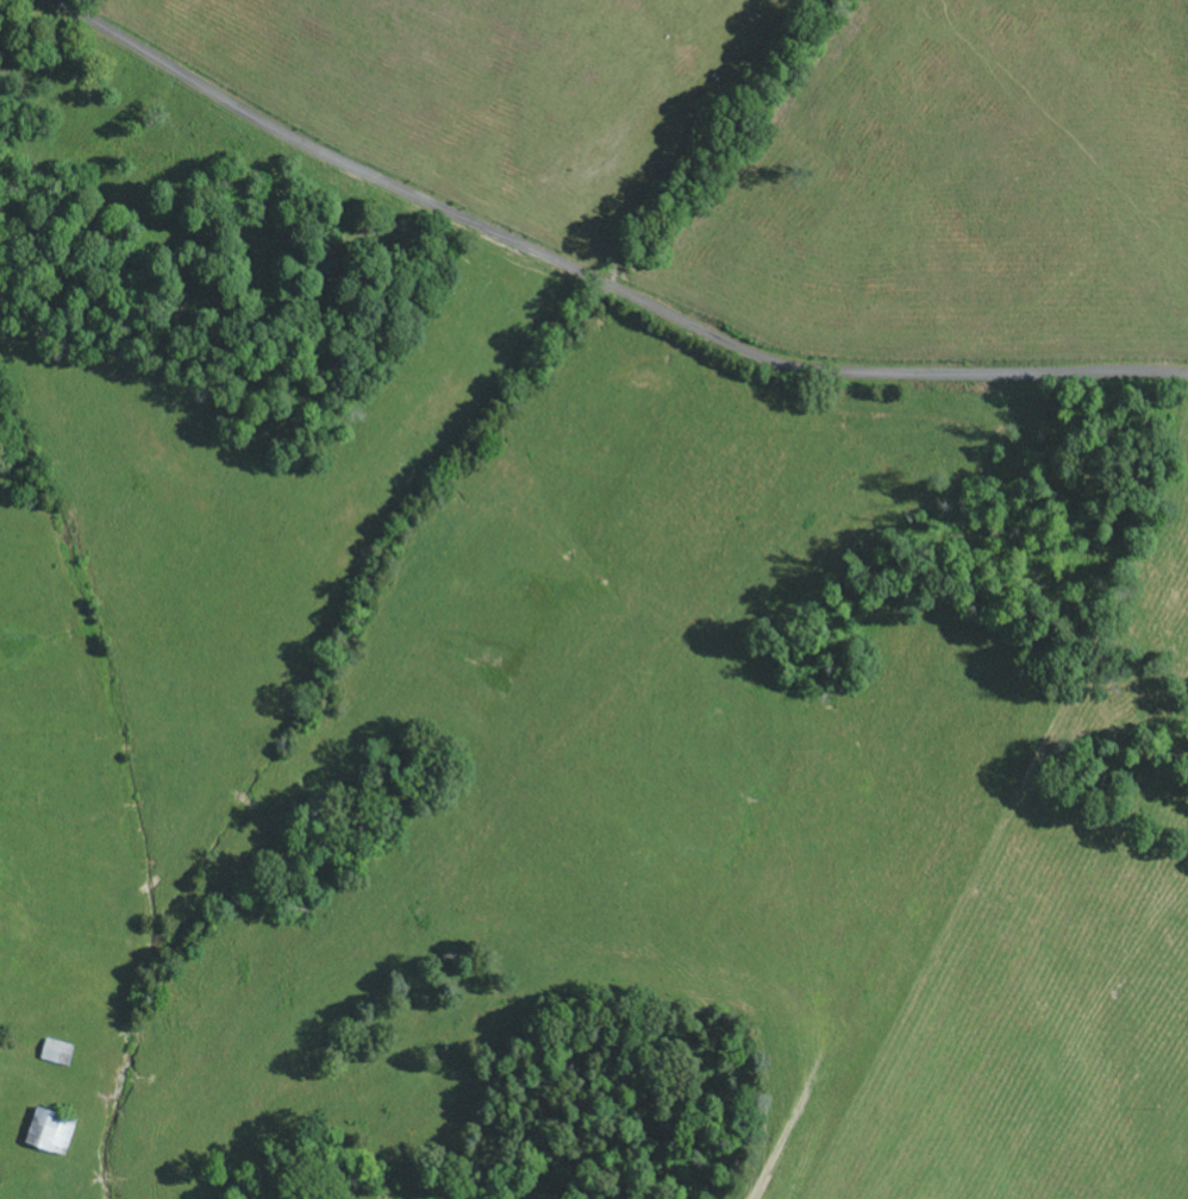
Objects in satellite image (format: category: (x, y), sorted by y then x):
road: (596, 277)
building: (51, 1054)
building: (44, 1134)

